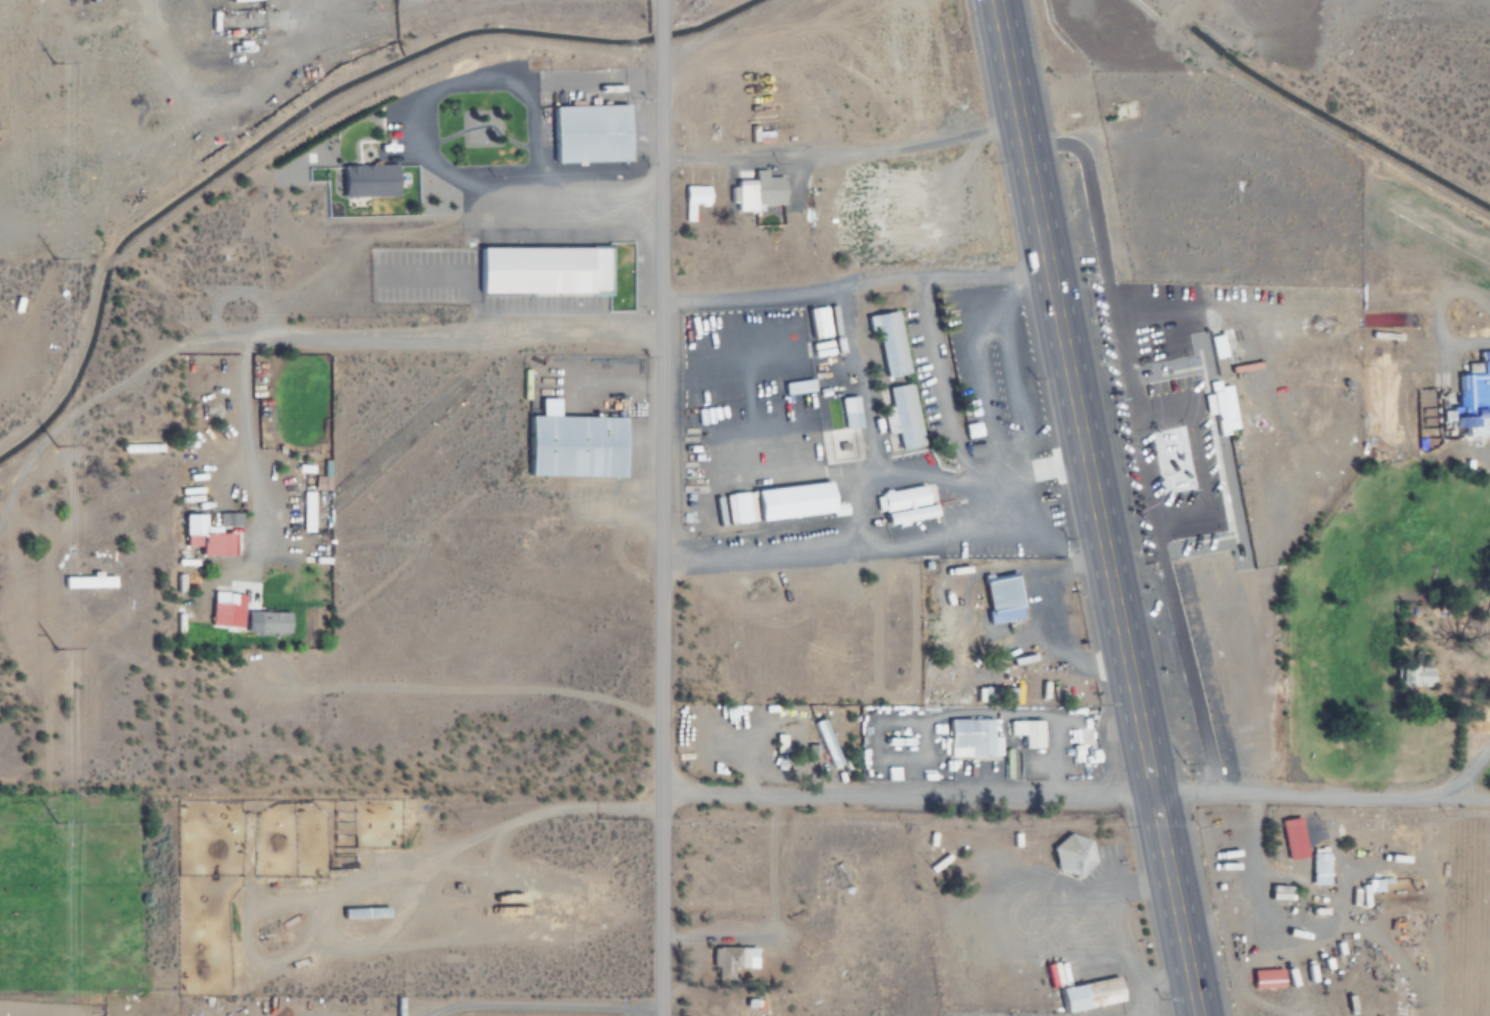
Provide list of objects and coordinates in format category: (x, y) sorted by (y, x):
building: (588, 134)
road: (717, 159)
building: (369, 180)
building: (756, 191)
building: (693, 199)
building: (793, 217)
building: (222, 267)
building: (543, 270)
road: (855, 280)
building: (889, 344)
building: (1474, 399)
building: (849, 412)
building: (1225, 416)
building: (900, 417)
building: (574, 446)
building: (791, 502)
road: (665, 507)
road: (1092, 508)
building: (316, 511)
building: (907, 513)
building: (191, 531)
road: (886, 543)
building: (88, 582)
building: (1000, 600)
building: (266, 624)
building: (994, 694)
building: (1029, 733)
building: (974, 737)
building: (1079, 746)
building: (827, 747)
building: (867, 760)
road: (1462, 778)
road: (1076, 793)
building: (1292, 832)
building: (1066, 851)
building: (1318, 866)
building: (830, 875)
building: (1371, 884)
road: (1121, 893)
building: (730, 962)
building: (1261, 974)
building: (1083, 990)

